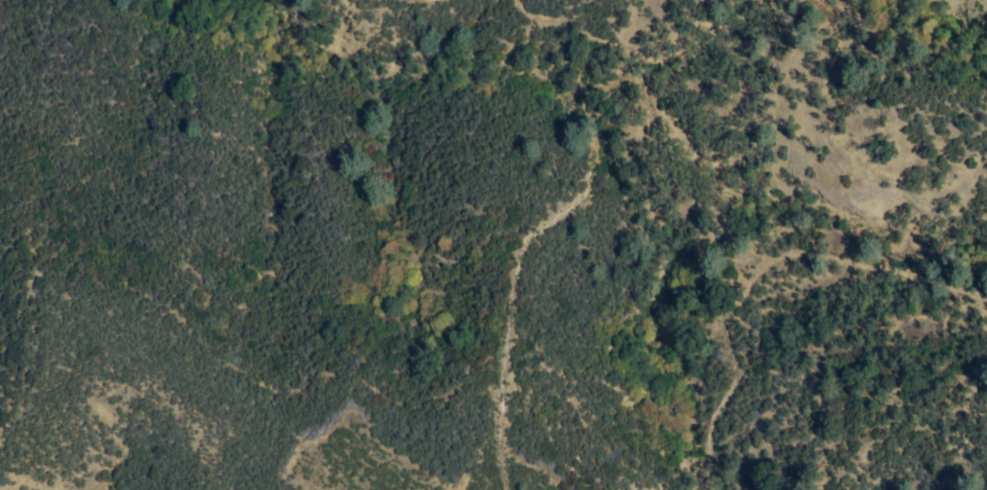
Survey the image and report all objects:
road: (564, 201)
road: (748, 284)

